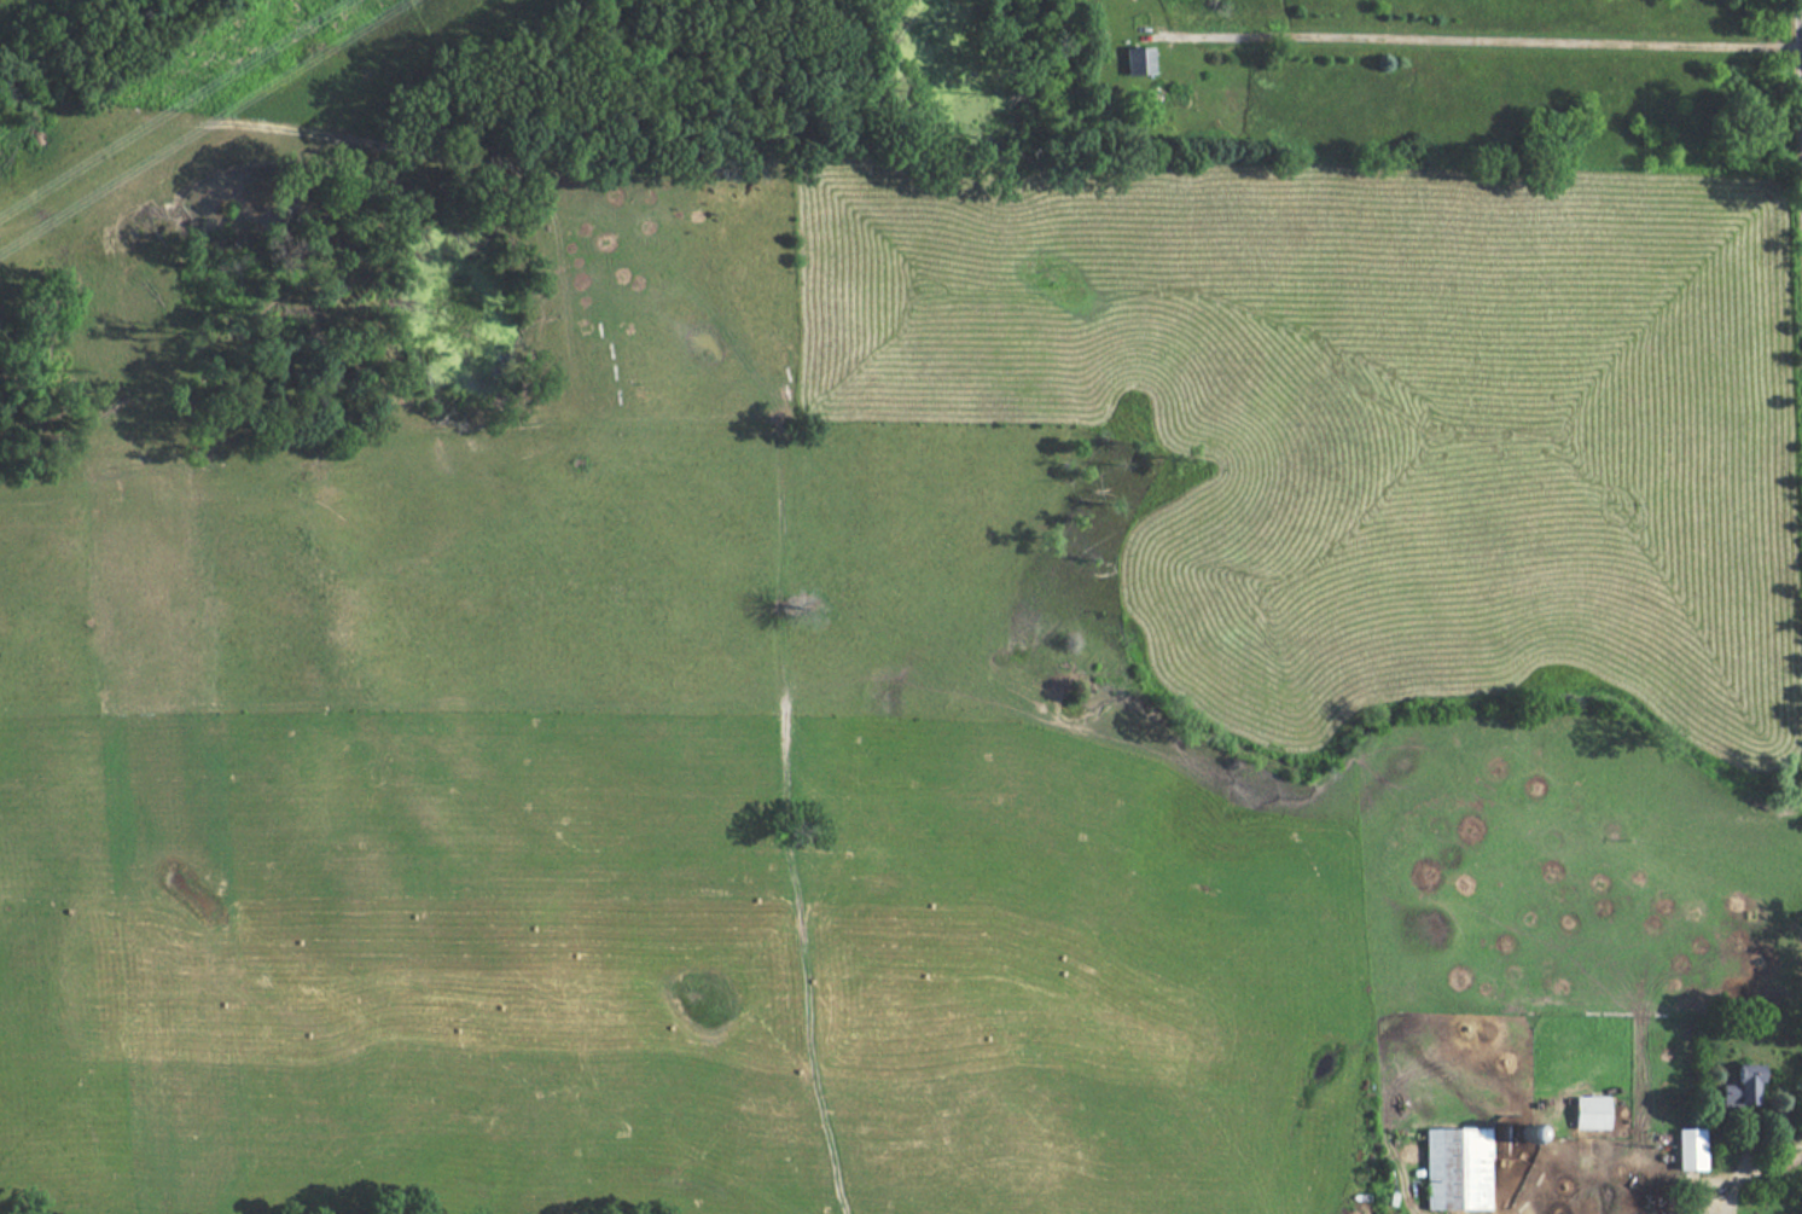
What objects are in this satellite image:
road: (1490, 42)
building: (1144, 60)
park: (540, 71)
building: (1734, 1088)
building: (1598, 1113)
building: (1685, 1150)
building: (1463, 1169)

